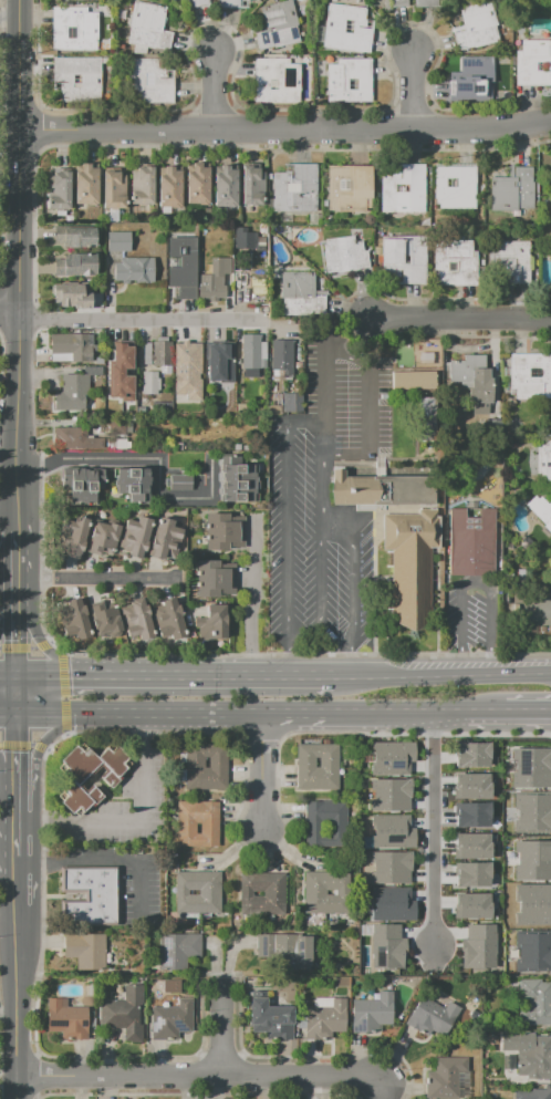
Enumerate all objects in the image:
building: (549, 1)
building: (202, 3)
building: (232, 3)
building: (402, 3)
building: (429, 3)
road: (19, 8)
road: (9, 17)
building: (280, 27)
building: (480, 27)
building: (76, 28)
building: (150, 28)
building: (349, 29)
building: (534, 64)
building: (79, 79)
building: (153, 81)
building: (279, 81)
building: (351, 81)
building: (476, 81)
road: (214, 90)
road: (414, 90)
road: (284, 132)
building: (550, 166)
building: (89, 185)
building: (200, 185)
building: (145, 186)
building: (227, 187)
building: (256, 187)
building: (458, 187)
building: (173, 188)
building: (349, 188)
building: (299, 189)
building: (116, 190)
building: (406, 190)
building: (516, 190)
building: (61, 193)
building: (204, 232)
building: (75, 238)
building: (241, 240)
building: (117, 241)
building: (260, 245)
building: (346, 255)
building: (408, 260)
building: (512, 262)
building: (458, 263)
building: (76, 265)
building: (181, 266)
road: (18, 270)
building: (133, 270)
building: (214, 279)
building: (76, 293)
building: (301, 294)
road: (9, 308)
road: (459, 317)
road: (134, 320)
building: (72, 344)
building: (251, 352)
building: (215, 353)
building: (156, 354)
building: (282, 356)
building: (425, 359)
building: (186, 369)
building: (122, 373)
building: (530, 375)
building: (472, 377)
road: (324, 380)
building: (414, 380)
building: (149, 382)
road: (368, 384)
road: (346, 385)
building: (72, 392)
building: (291, 403)
building: (163, 406)
building: (425, 417)
road: (302, 421)
building: (117, 425)
building: (74, 438)
road: (344, 454)
road: (147, 458)
building: (543, 462)
building: (238, 471)
road: (319, 474)
building: (133, 475)
building: (180, 481)
building: (238, 484)
building: (91, 487)
building: (76, 488)
building: (134, 490)
building: (381, 490)
building: (238, 497)
parking lot: (325, 500)
road: (8, 511)
building: (545, 516)
road: (287, 521)
road: (335, 528)
building: (222, 531)
building: (74, 536)
building: (135, 536)
building: (103, 537)
building: (165, 539)
building: (470, 541)
building: (409, 562)
road: (17, 568)
building: (212, 578)
road: (92, 579)
road: (319, 580)
road: (475, 583)
road: (353, 588)
road: (181, 597)
road: (251, 599)
parking lot: (472, 615)
road: (8, 619)
building: (105, 619)
building: (75, 620)
building: (137, 620)
building: (169, 621)
building: (211, 623)
road: (304, 639)
road: (18, 642)
road: (40, 642)
road: (43, 644)
road: (14, 647)
road: (32, 647)
road: (288, 650)
road: (298, 654)
road: (354, 662)
road: (9, 675)
road: (174, 675)
road: (453, 675)
road: (342, 676)
road: (62, 692)
road: (18, 694)
road: (309, 708)
road: (426, 708)
road: (524, 708)
road: (141, 713)
road: (9, 714)
road: (143, 725)
road: (135, 732)
road: (416, 733)
road: (257, 735)
road: (14, 743)
road: (31, 744)
road: (40, 744)
road: (19, 745)
road: (39, 746)
building: (470, 754)
building: (391, 757)
building: (220, 761)
building: (330, 763)
building: (531, 767)
road: (9, 768)
road: (262, 769)
building: (74, 782)
building: (469, 786)
building: (388, 794)
building: (533, 811)
road: (18, 812)
building: (470, 815)
road: (38, 821)
road: (142, 821)
road: (429, 822)
building: (339, 827)
building: (210, 828)
building: (391, 831)
building: (470, 846)
building: (533, 860)
road: (79, 861)
building: (389, 867)
building: (470, 873)
road: (18, 882)
road: (139, 892)
building: (208, 892)
building: (273, 892)
building: (314, 892)
building: (90, 895)
building: (389, 903)
building: (533, 904)
building: (470, 905)
road: (9, 919)
building: (506, 944)
building: (385, 946)
building: (477, 946)
building: (85, 950)
building: (177, 950)
building: (287, 950)
building: (533, 951)
building: (386, 982)
building: (168, 985)
building: (87, 989)
building: (343, 992)
building: (321, 1003)
building: (534, 1003)
road: (18, 1008)
road: (9, 1012)
building: (123, 1013)
building: (372, 1013)
building: (269, 1018)
building: (432, 1018)
building: (65, 1019)
building: (171, 1019)
building: (325, 1020)
road: (225, 1028)
building: (529, 1054)
road: (200, 1076)
building: (447, 1079)
road: (384, 1088)
building: (531, 1093)

